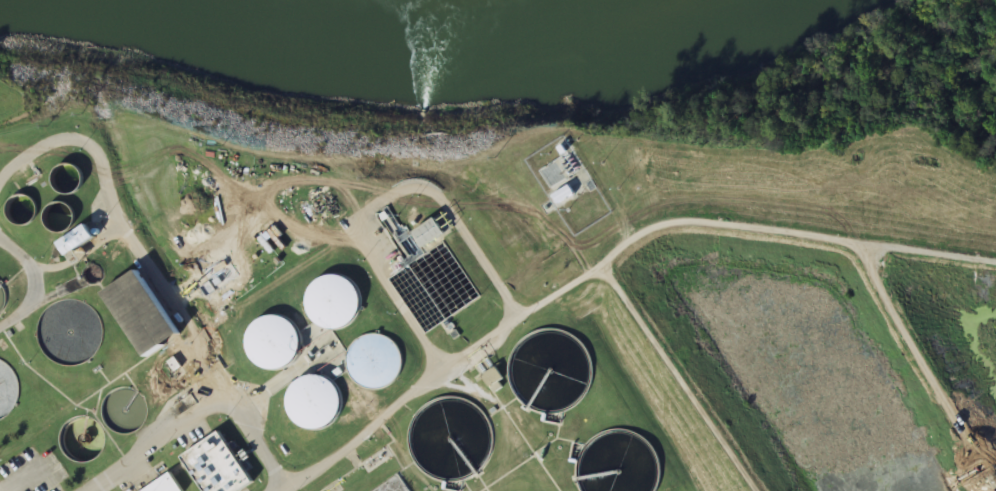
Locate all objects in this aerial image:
river: (382, 8)
building: (67, 178)
building: (559, 183)
building: (58, 217)
building: (429, 233)
building: (76, 240)
road: (615, 266)
building: (333, 301)
building: (141, 314)
wastewater plant: (314, 327)
building: (274, 341)
building: (374, 359)
building: (547, 371)
building: (493, 380)
building: (315, 403)
building: (450, 443)
building: (615, 462)
building: (216, 466)
building: (165, 485)
road: (0, 489)

